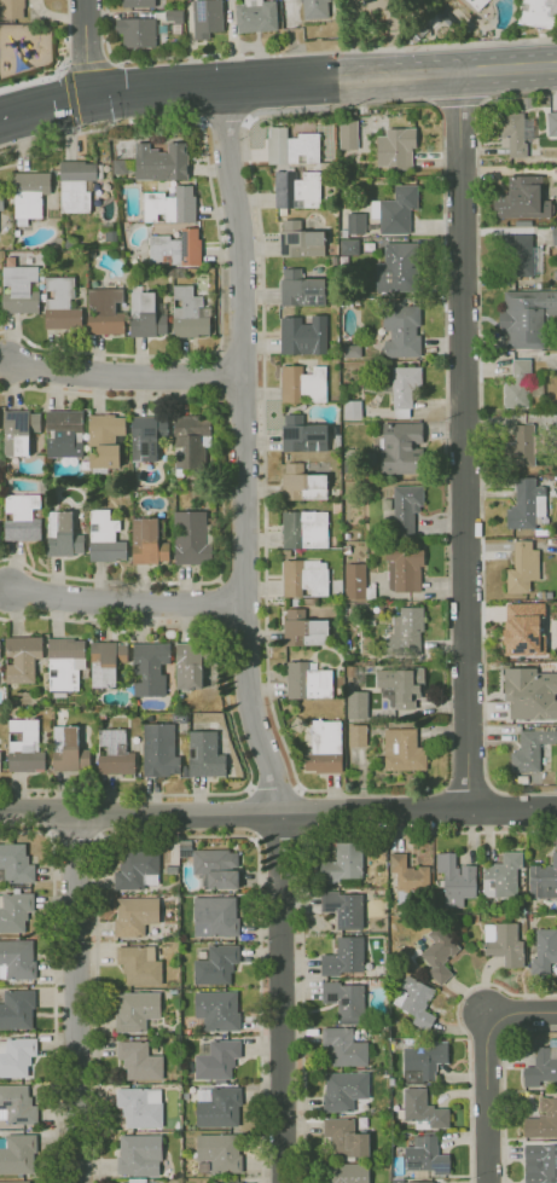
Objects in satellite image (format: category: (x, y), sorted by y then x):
building: (134, 2)
building: (476, 4)
building: (11, 8)
building: (313, 8)
building: (538, 12)
building: (255, 15)
building: (207, 17)
building: (135, 30)
road: (66, 34)
road: (85, 46)
road: (65, 74)
road: (324, 79)
road: (33, 80)
traffic signals: (92, 93)
road: (45, 100)
road: (457, 100)
road: (225, 121)
building: (551, 123)
building: (512, 133)
building: (348, 134)
building: (292, 147)
building: (395, 147)
building: (162, 162)
building: (124, 167)
building: (556, 167)
building: (76, 185)
building: (297, 191)
building: (29, 195)
building: (522, 198)
building: (1, 202)
building: (172, 205)
building: (398, 209)
building: (355, 222)
building: (18, 233)
building: (555, 236)
building: (300, 240)
road: (219, 244)
building: (348, 247)
building: (176, 249)
building: (516, 255)
building: (335, 261)
building: (400, 266)
building: (169, 272)
building: (179, 272)
building: (302, 289)
building: (21, 290)
building: (62, 303)
building: (105, 312)
building: (146, 314)
building: (190, 314)
building: (524, 315)
building: (400, 331)
building: (304, 336)
road: (123, 375)
building: (303, 384)
building: (404, 384)
building: (516, 384)
road: (263, 417)
building: (19, 430)
building: (65, 434)
building: (303, 435)
building: (147, 437)
road: (463, 437)
building: (106, 440)
road: (480, 440)
building: (191, 442)
building: (338, 442)
building: (524, 445)
building: (401, 446)
road: (445, 462)
building: (179, 480)
building: (302, 483)
road: (224, 492)
building: (406, 501)
building: (523, 503)
building: (23, 517)
building: (306, 530)
building: (63, 535)
building: (105, 538)
building: (193, 538)
building: (150, 541)
building: (286, 553)
building: (522, 567)
building: (404, 569)
building: (304, 578)
building: (355, 580)
road: (127, 601)
building: (295, 602)
building: (522, 628)
building: (304, 630)
building: (405, 632)
road: (245, 636)
building: (23, 659)
building: (108, 662)
building: (192, 663)
building: (65, 665)
building: (151, 668)
building: (350, 671)
building: (308, 682)
building: (402, 684)
building: (337, 691)
building: (530, 692)
building: (180, 696)
building: (356, 704)
building: (147, 717)
building: (180, 718)
road: (233, 723)
building: (298, 725)
building: (356, 735)
building: (25, 747)
building: (325, 747)
building: (530, 749)
building: (69, 750)
building: (161, 750)
building: (402, 750)
building: (116, 753)
building: (205, 755)
building: (0, 761)
road: (274, 788)
road: (466, 790)
road: (512, 805)
road: (254, 811)
road: (300, 811)
road: (233, 812)
road: (280, 834)
road: (75, 837)
building: (185, 847)
building: (340, 863)
building: (16, 864)
building: (216, 868)
building: (138, 870)
building: (501, 875)
building: (410, 876)
building: (543, 878)
building: (454, 880)
road: (301, 885)
building: (343, 907)
building: (14, 911)
building: (135, 916)
building: (215, 917)
building: (1, 938)
building: (505, 944)
building: (544, 950)
building: (439, 953)
building: (343, 956)
building: (17, 959)
building: (140, 965)
building: (216, 965)
road: (97, 970)
road: (259, 973)
road: (54, 984)
road: (77, 998)
building: (344, 1001)
building: (416, 1001)
building: (16, 1009)
building: (217, 1010)
building: (137, 1011)
road: (521, 1011)
road: (465, 1037)
building: (343, 1046)
building: (17, 1057)
building: (425, 1057)
building: (216, 1060)
building: (139, 1061)
building: (541, 1062)
road: (501, 1081)
building: (343, 1090)
road: (485, 1097)
building: (16, 1106)
building: (140, 1107)
building: (217, 1107)
building: (422, 1108)
building: (541, 1119)
building: (344, 1137)
building: (17, 1154)
building: (219, 1154)
building: (425, 1155)
building: (141, 1156)
building: (540, 1162)
building: (347, 1172)
building: (138, 1181)
building: (208, 1181)
building: (14, 1182)
building: (225, 1182)
building: (419, 1182)

